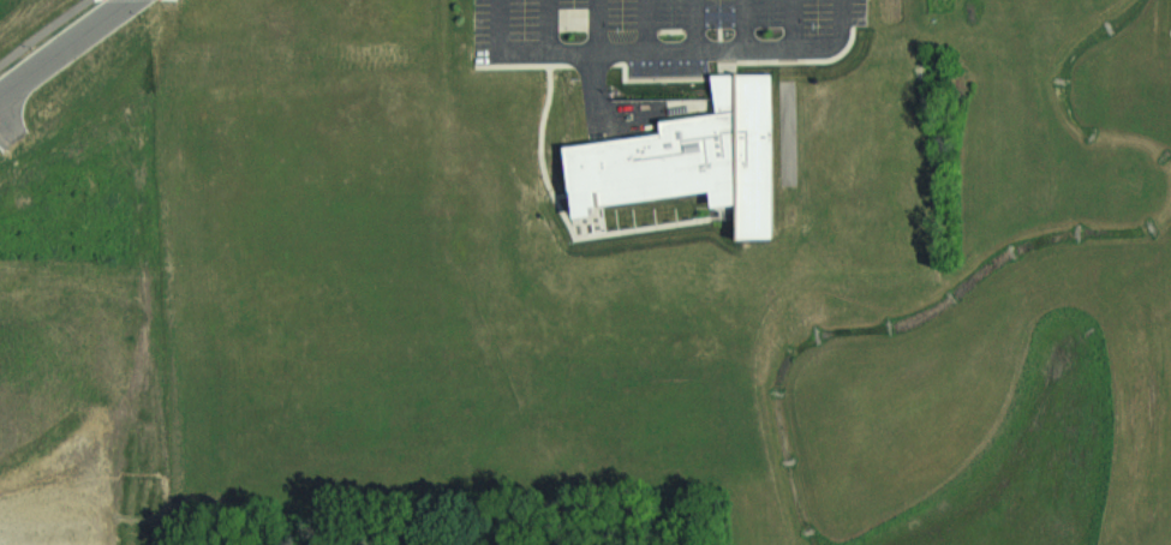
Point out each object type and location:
road: (840, 18)
road: (790, 23)
road: (645, 24)
road: (695, 24)
road: (743, 24)
road: (496, 25)
road: (548, 25)
road: (597, 25)
road: (65, 48)
road: (669, 49)
road: (521, 64)
road: (724, 65)
road: (728, 68)
building: (692, 157)
road: (570, 203)
road: (592, 220)
road: (569, 227)
road: (591, 227)
road: (582, 228)

